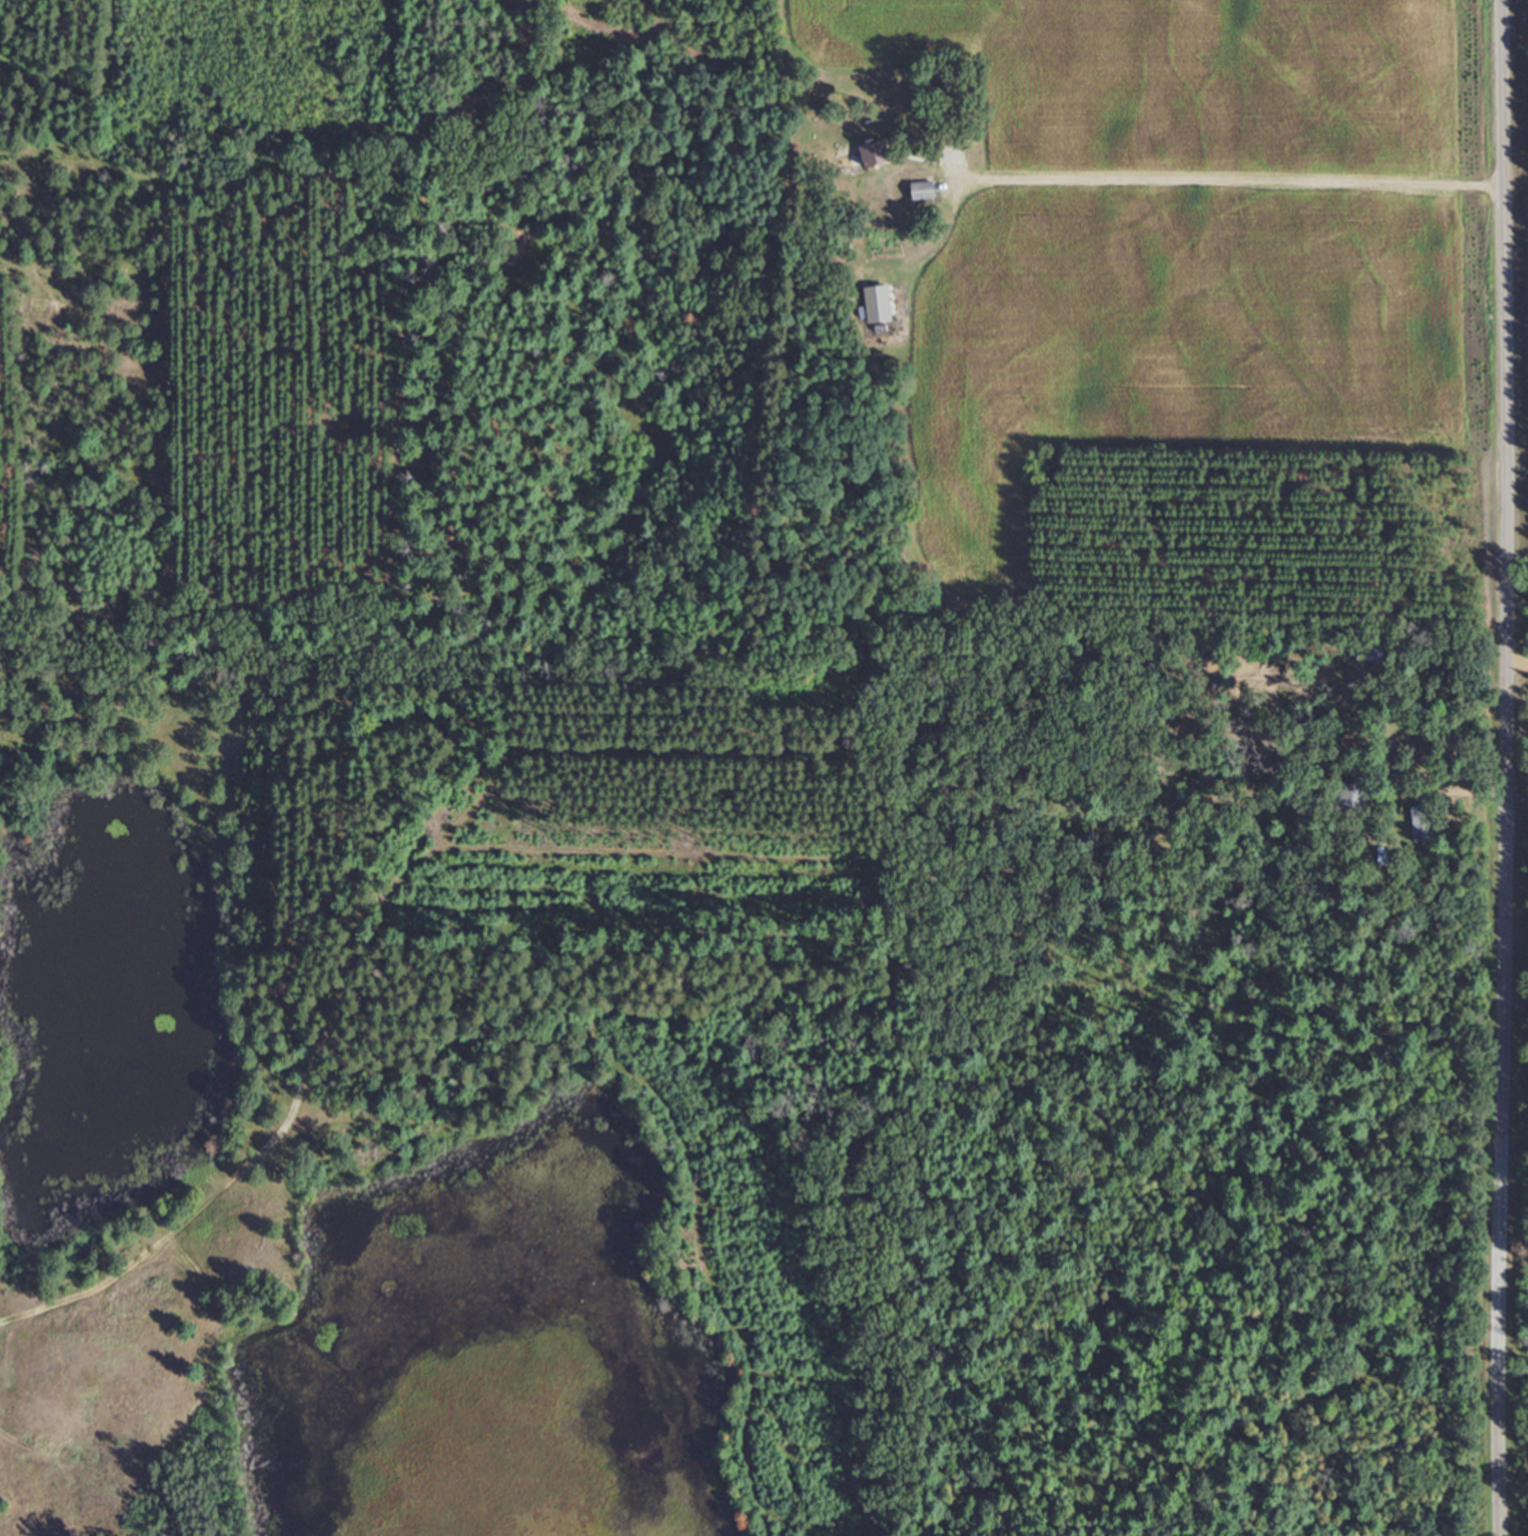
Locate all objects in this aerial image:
building: (873, 153)
road: (1225, 175)
building: (921, 191)
building: (1367, 653)
road: (1502, 768)
building: (1350, 790)
road: (1314, 1421)

